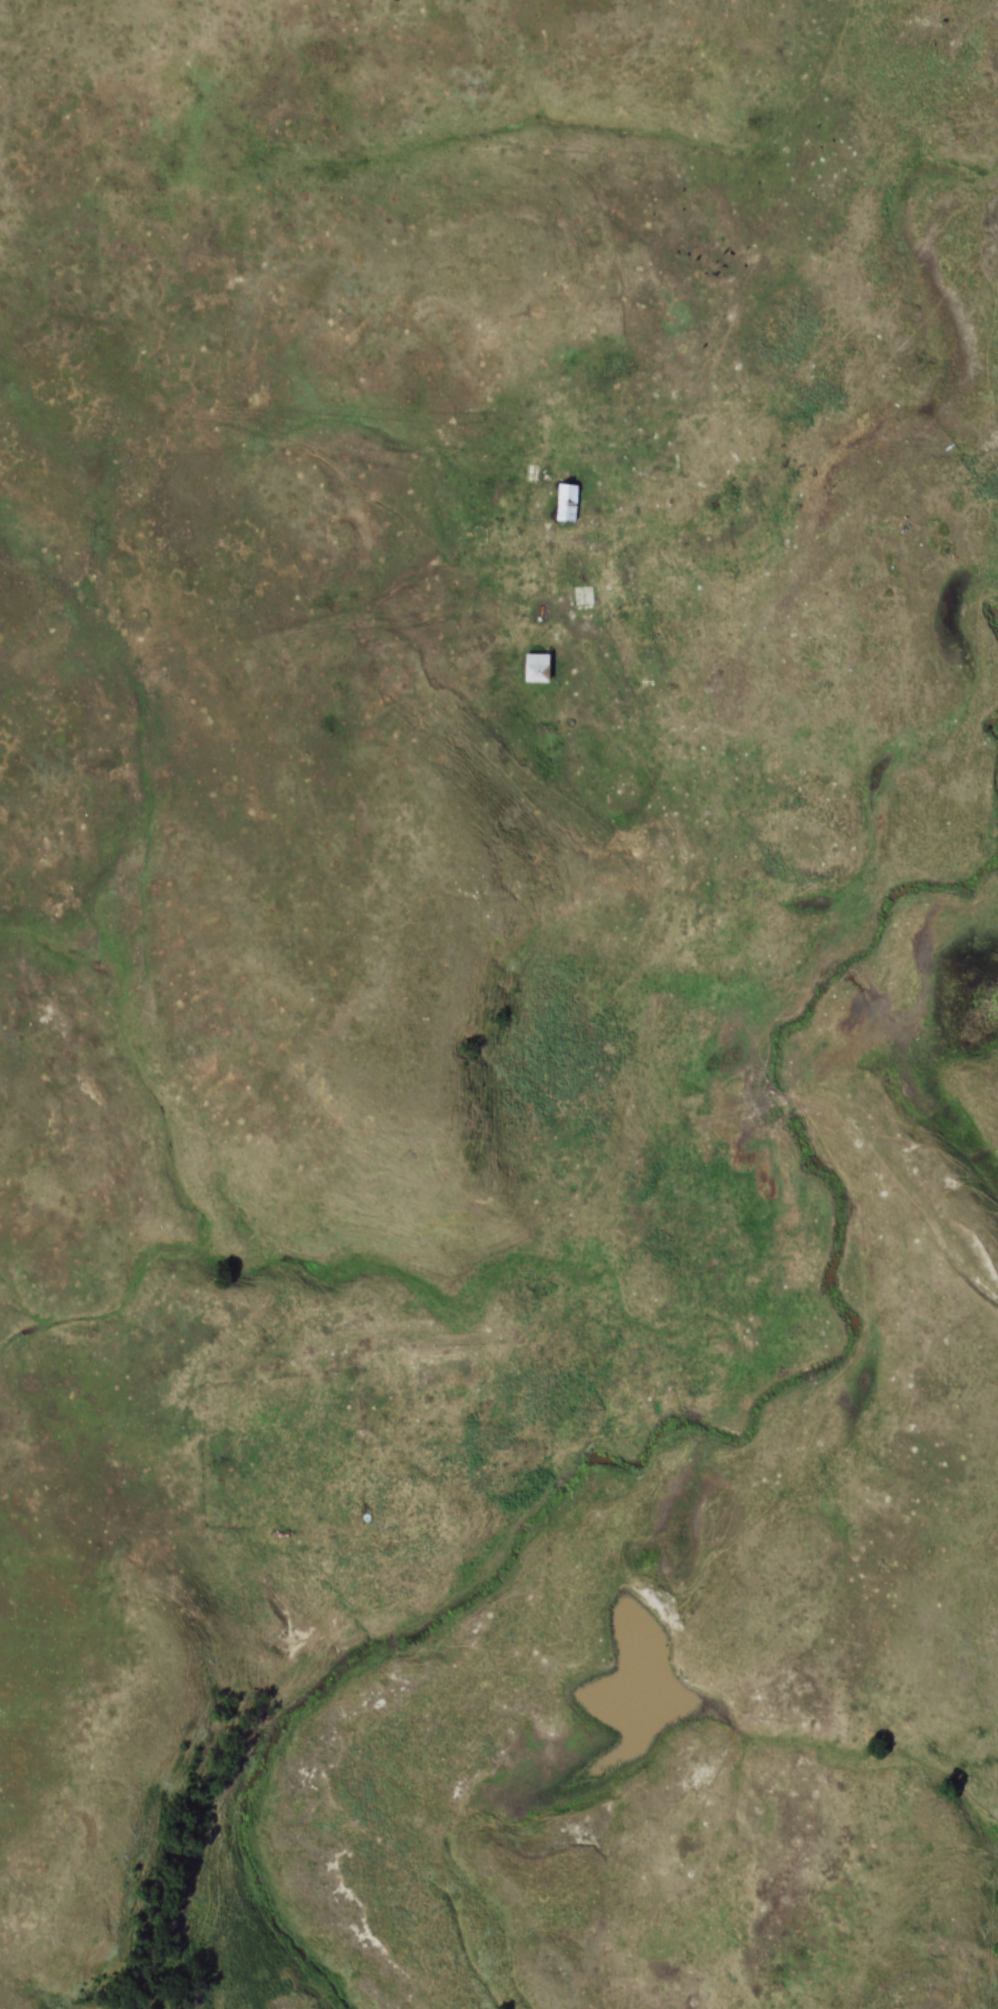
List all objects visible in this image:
building: (565, 488)
building: (582, 595)
building: (533, 653)
building: (535, 668)
road: (668, 977)

